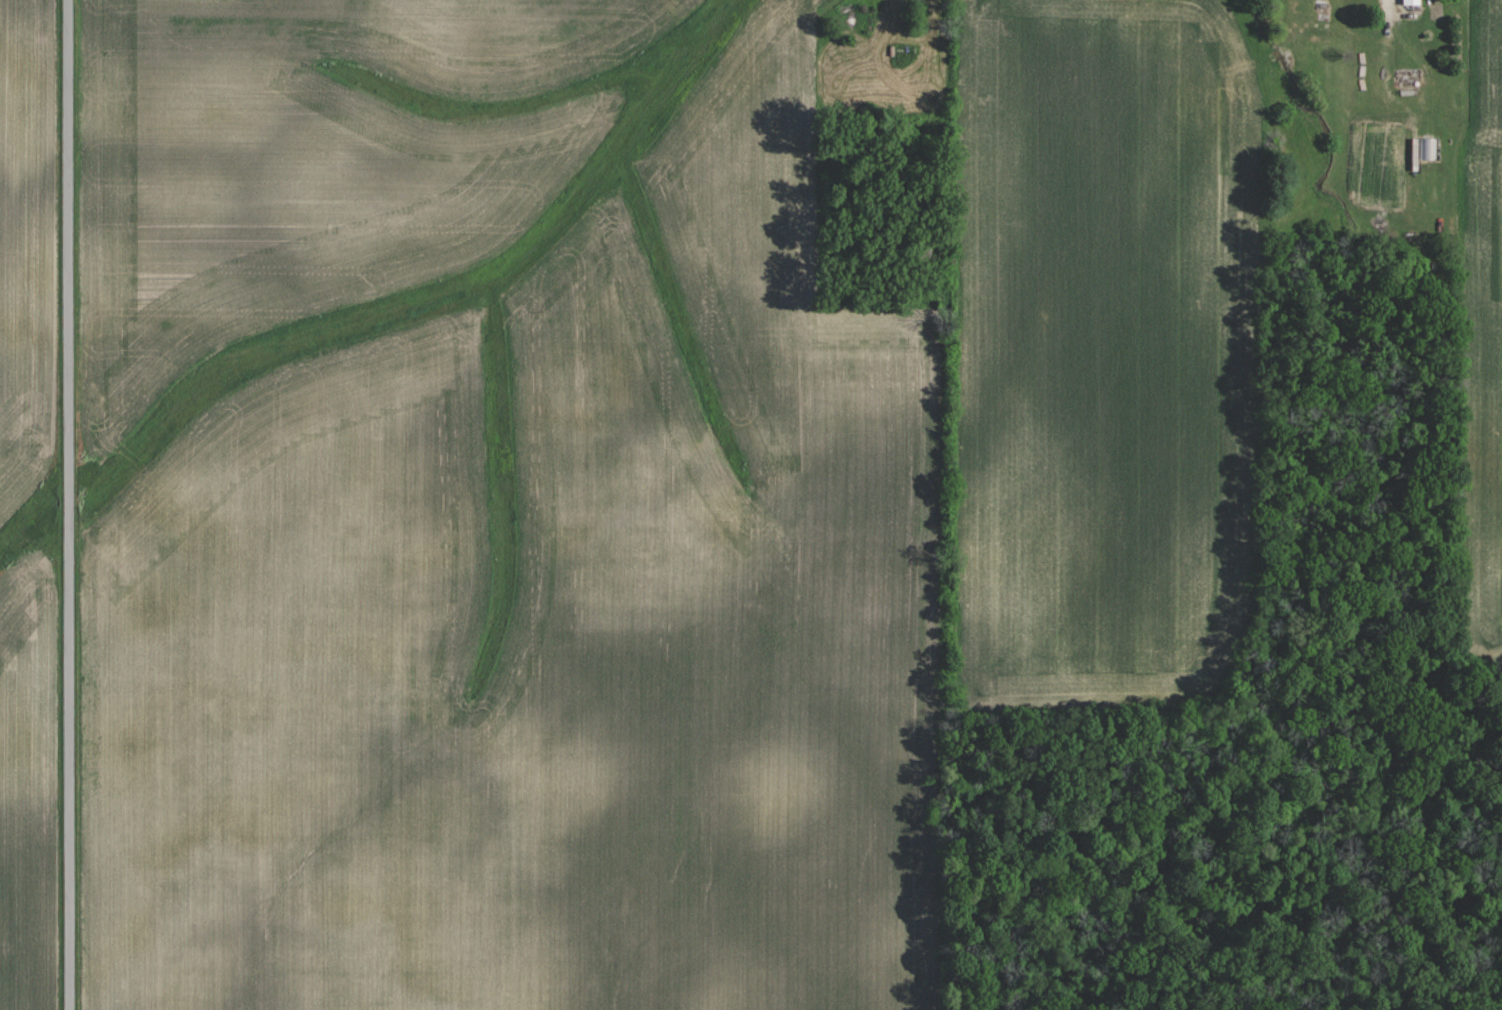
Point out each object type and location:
building: (1413, 2)
road: (1393, 6)
road: (930, 119)
building: (1428, 148)
road: (68, 504)

